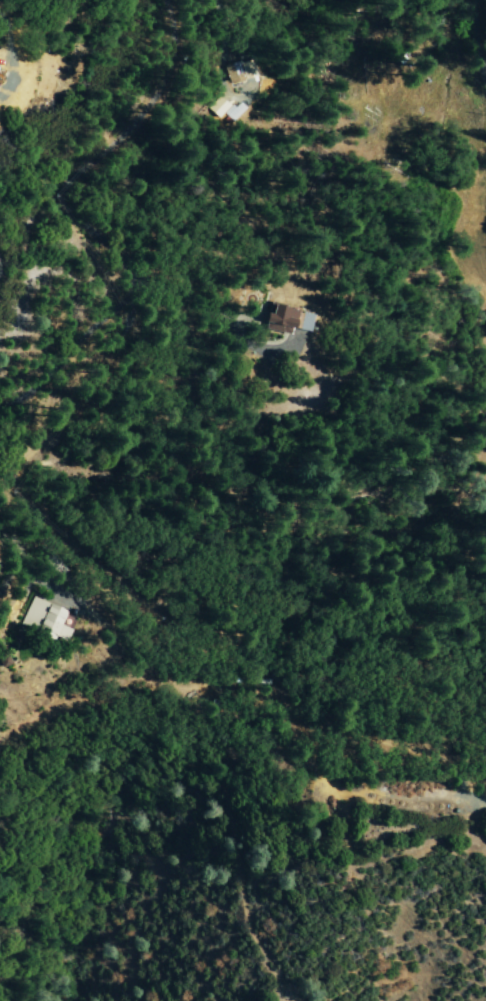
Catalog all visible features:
road: (475, 41)
building: (217, 107)
road: (76, 213)
building: (279, 320)
road: (31, 423)
building: (45, 619)
road: (140, 647)

